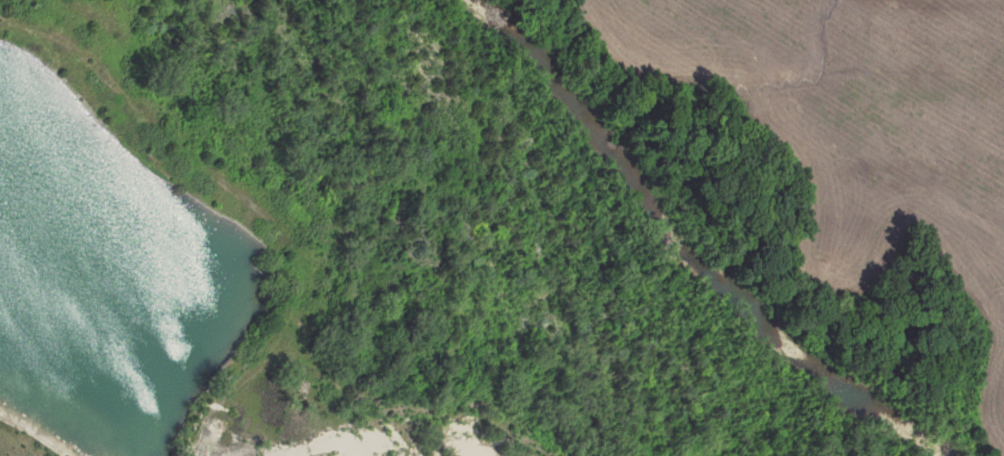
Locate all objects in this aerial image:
river: (672, 239)
quarry: (412, 423)

